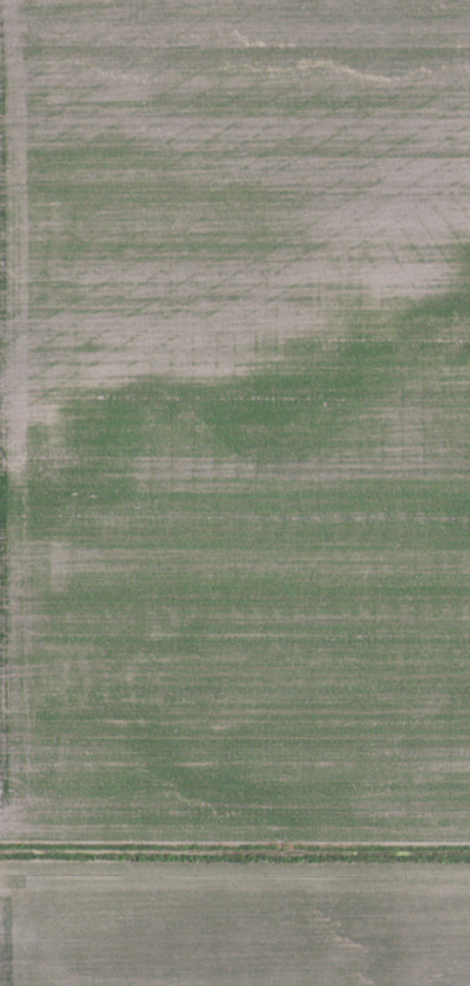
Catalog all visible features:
crop: (235, 493)

